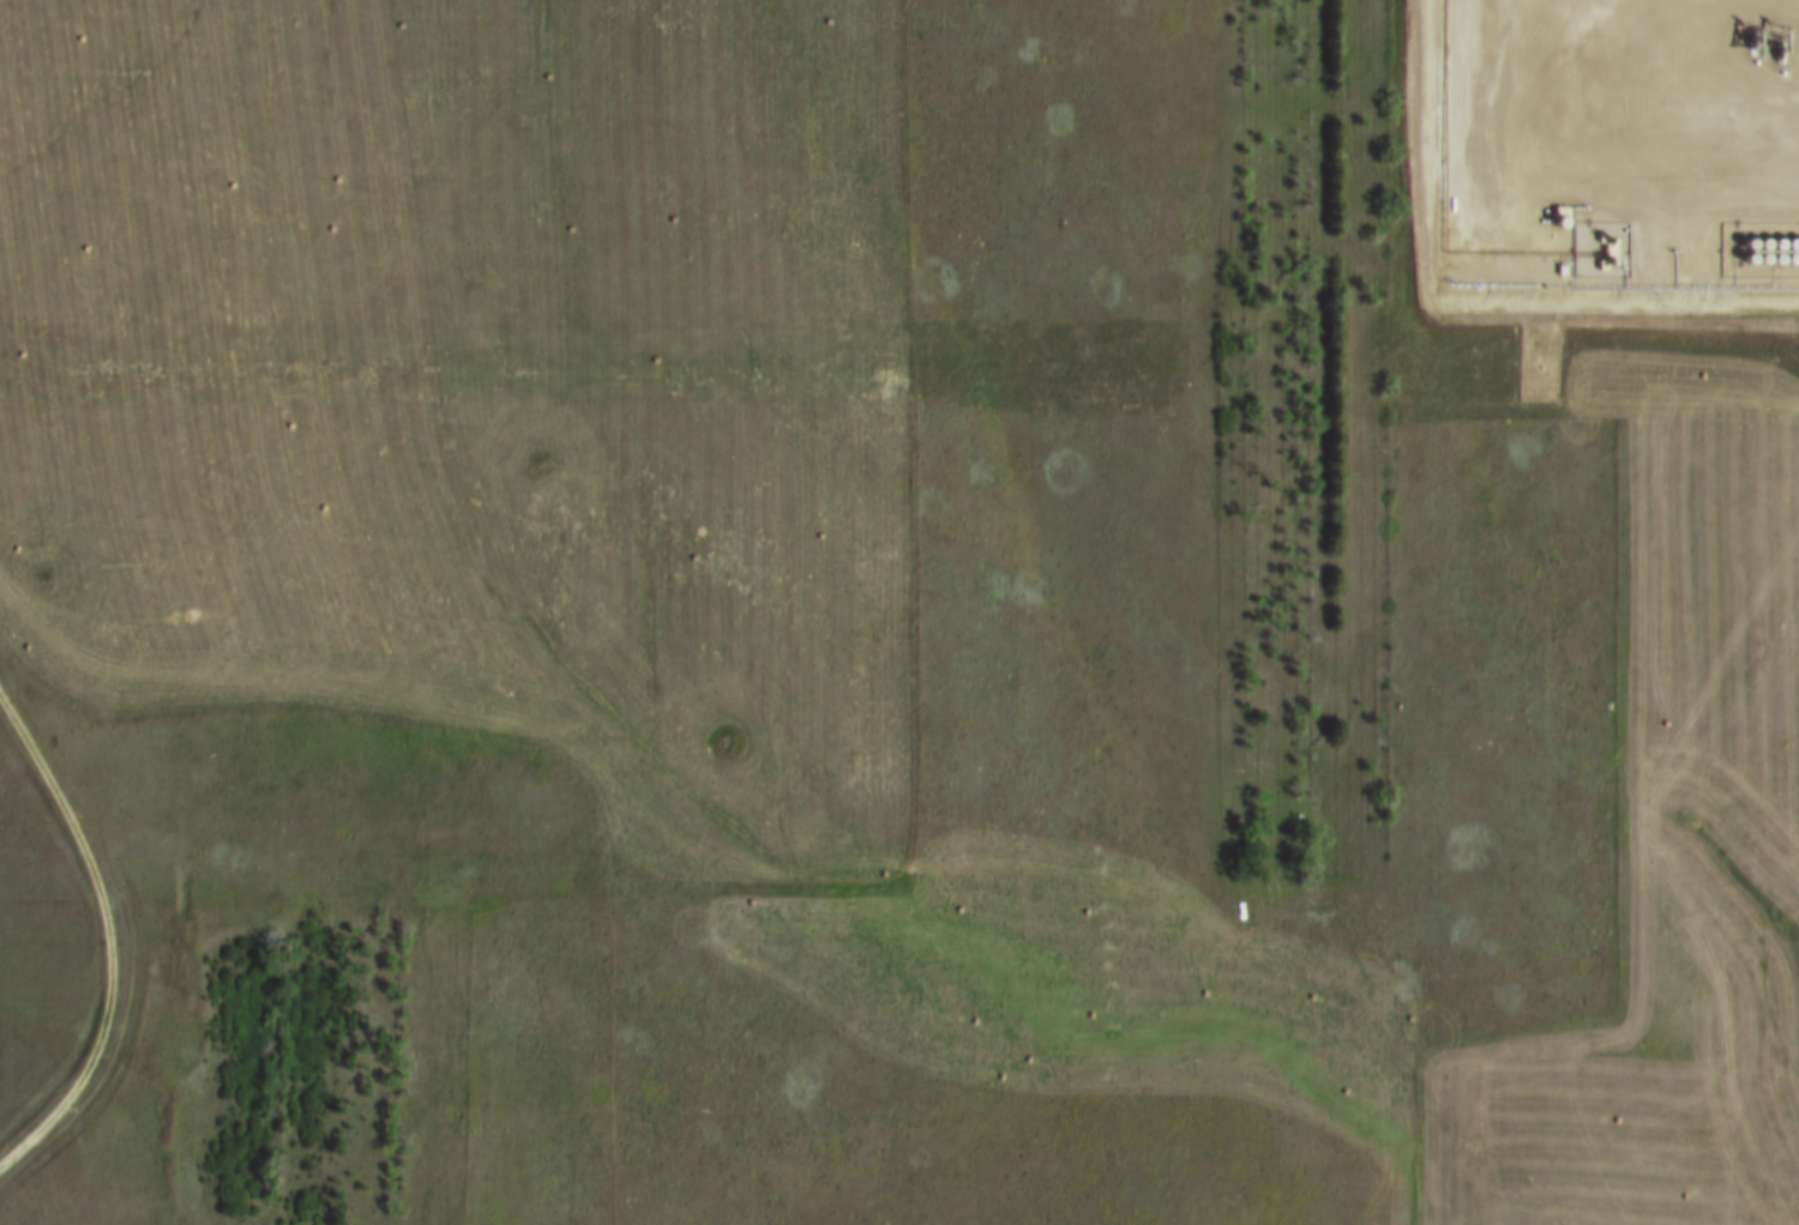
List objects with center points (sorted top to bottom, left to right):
road: (487, 905)
road: (107, 942)

